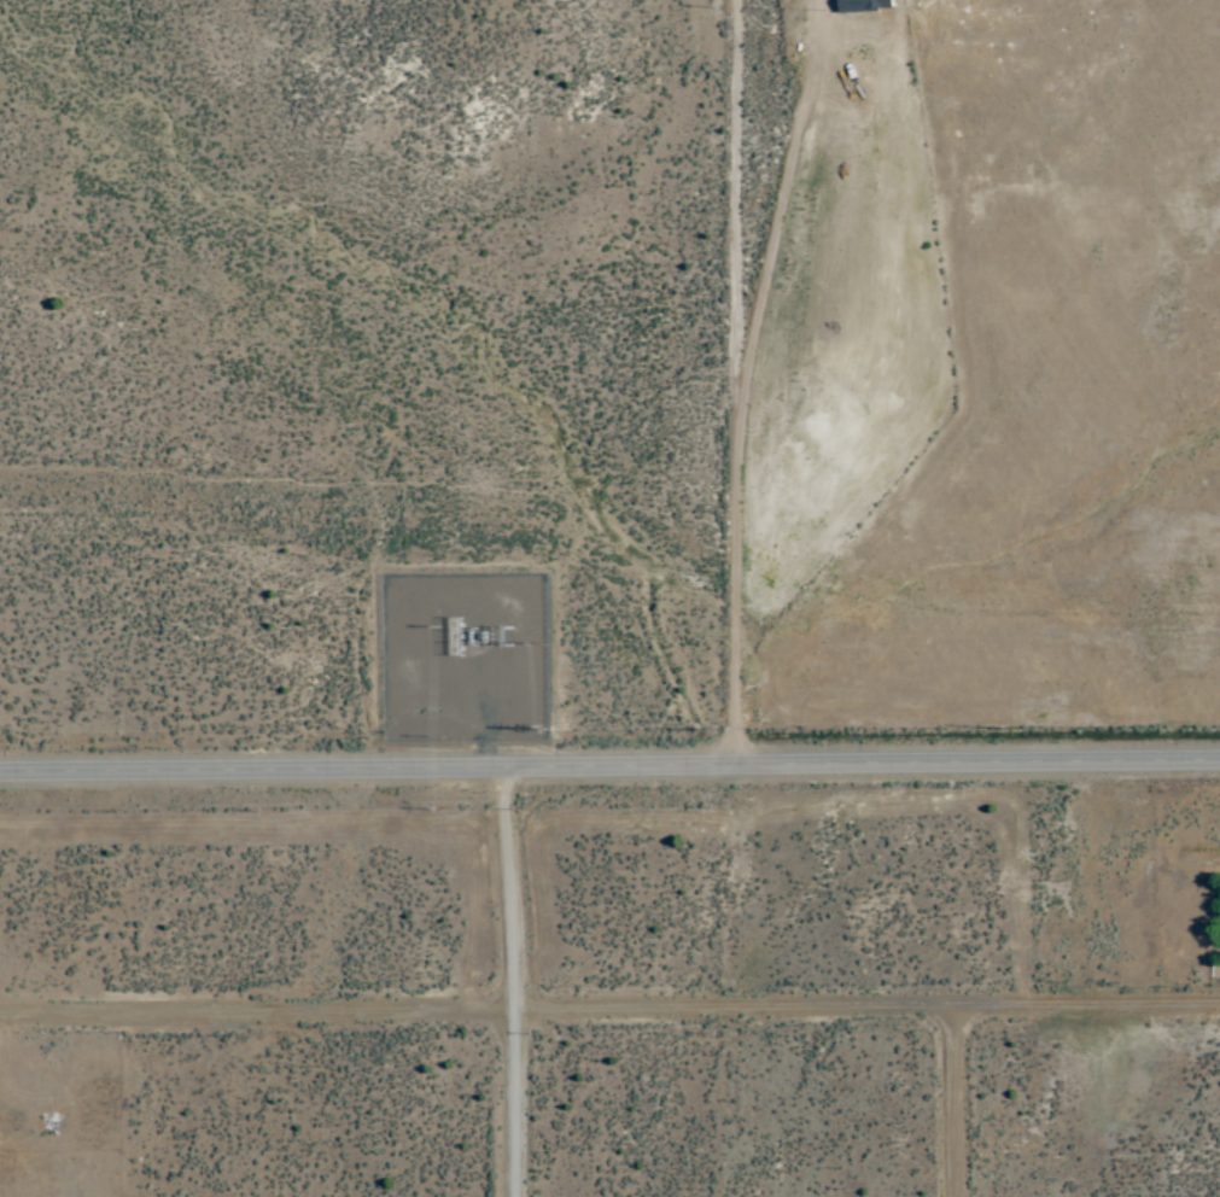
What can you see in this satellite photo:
building: (864, 6)
road: (745, 410)
road: (609, 767)
road: (518, 982)
road: (609, 1011)
road: (956, 1103)

